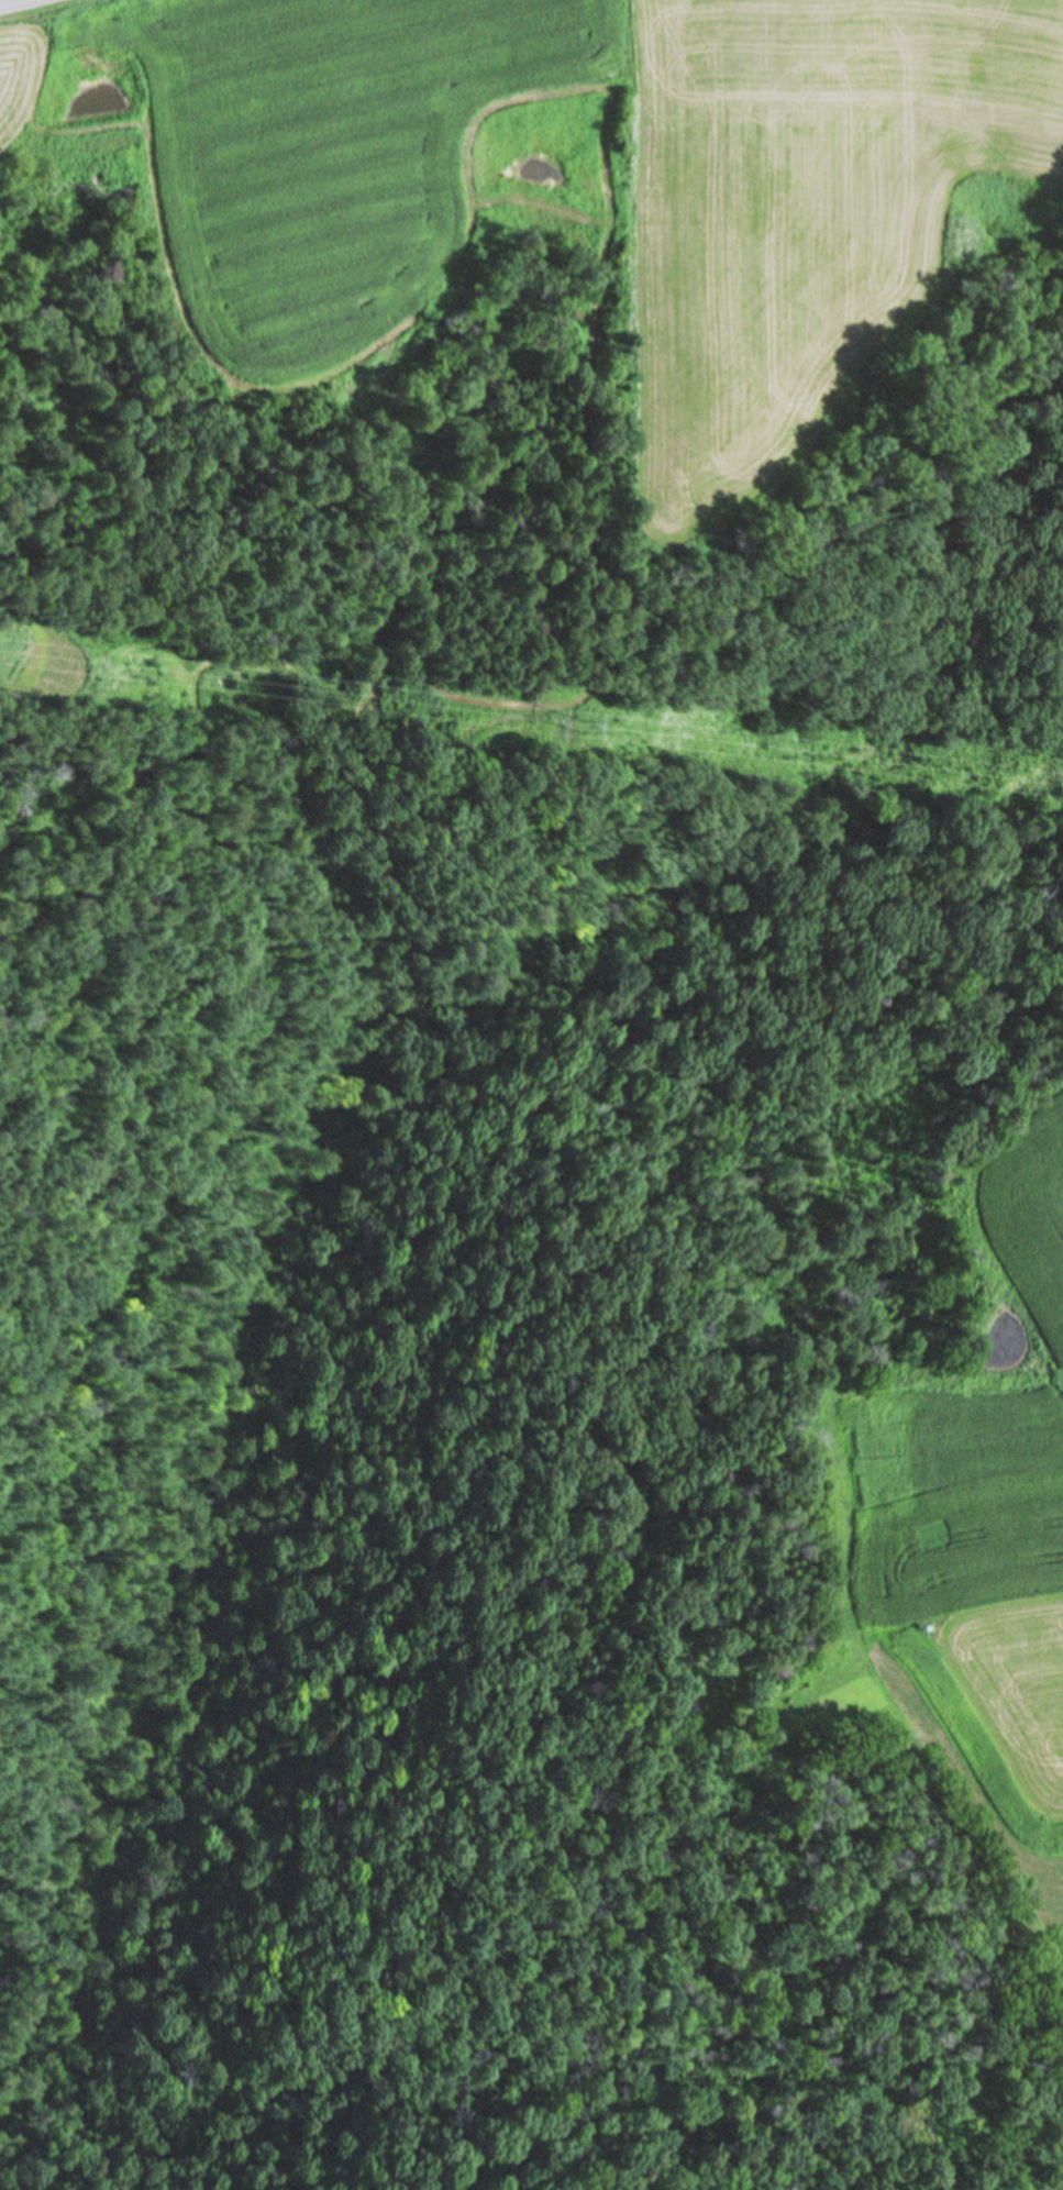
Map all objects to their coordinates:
power tower: (585, 725)

